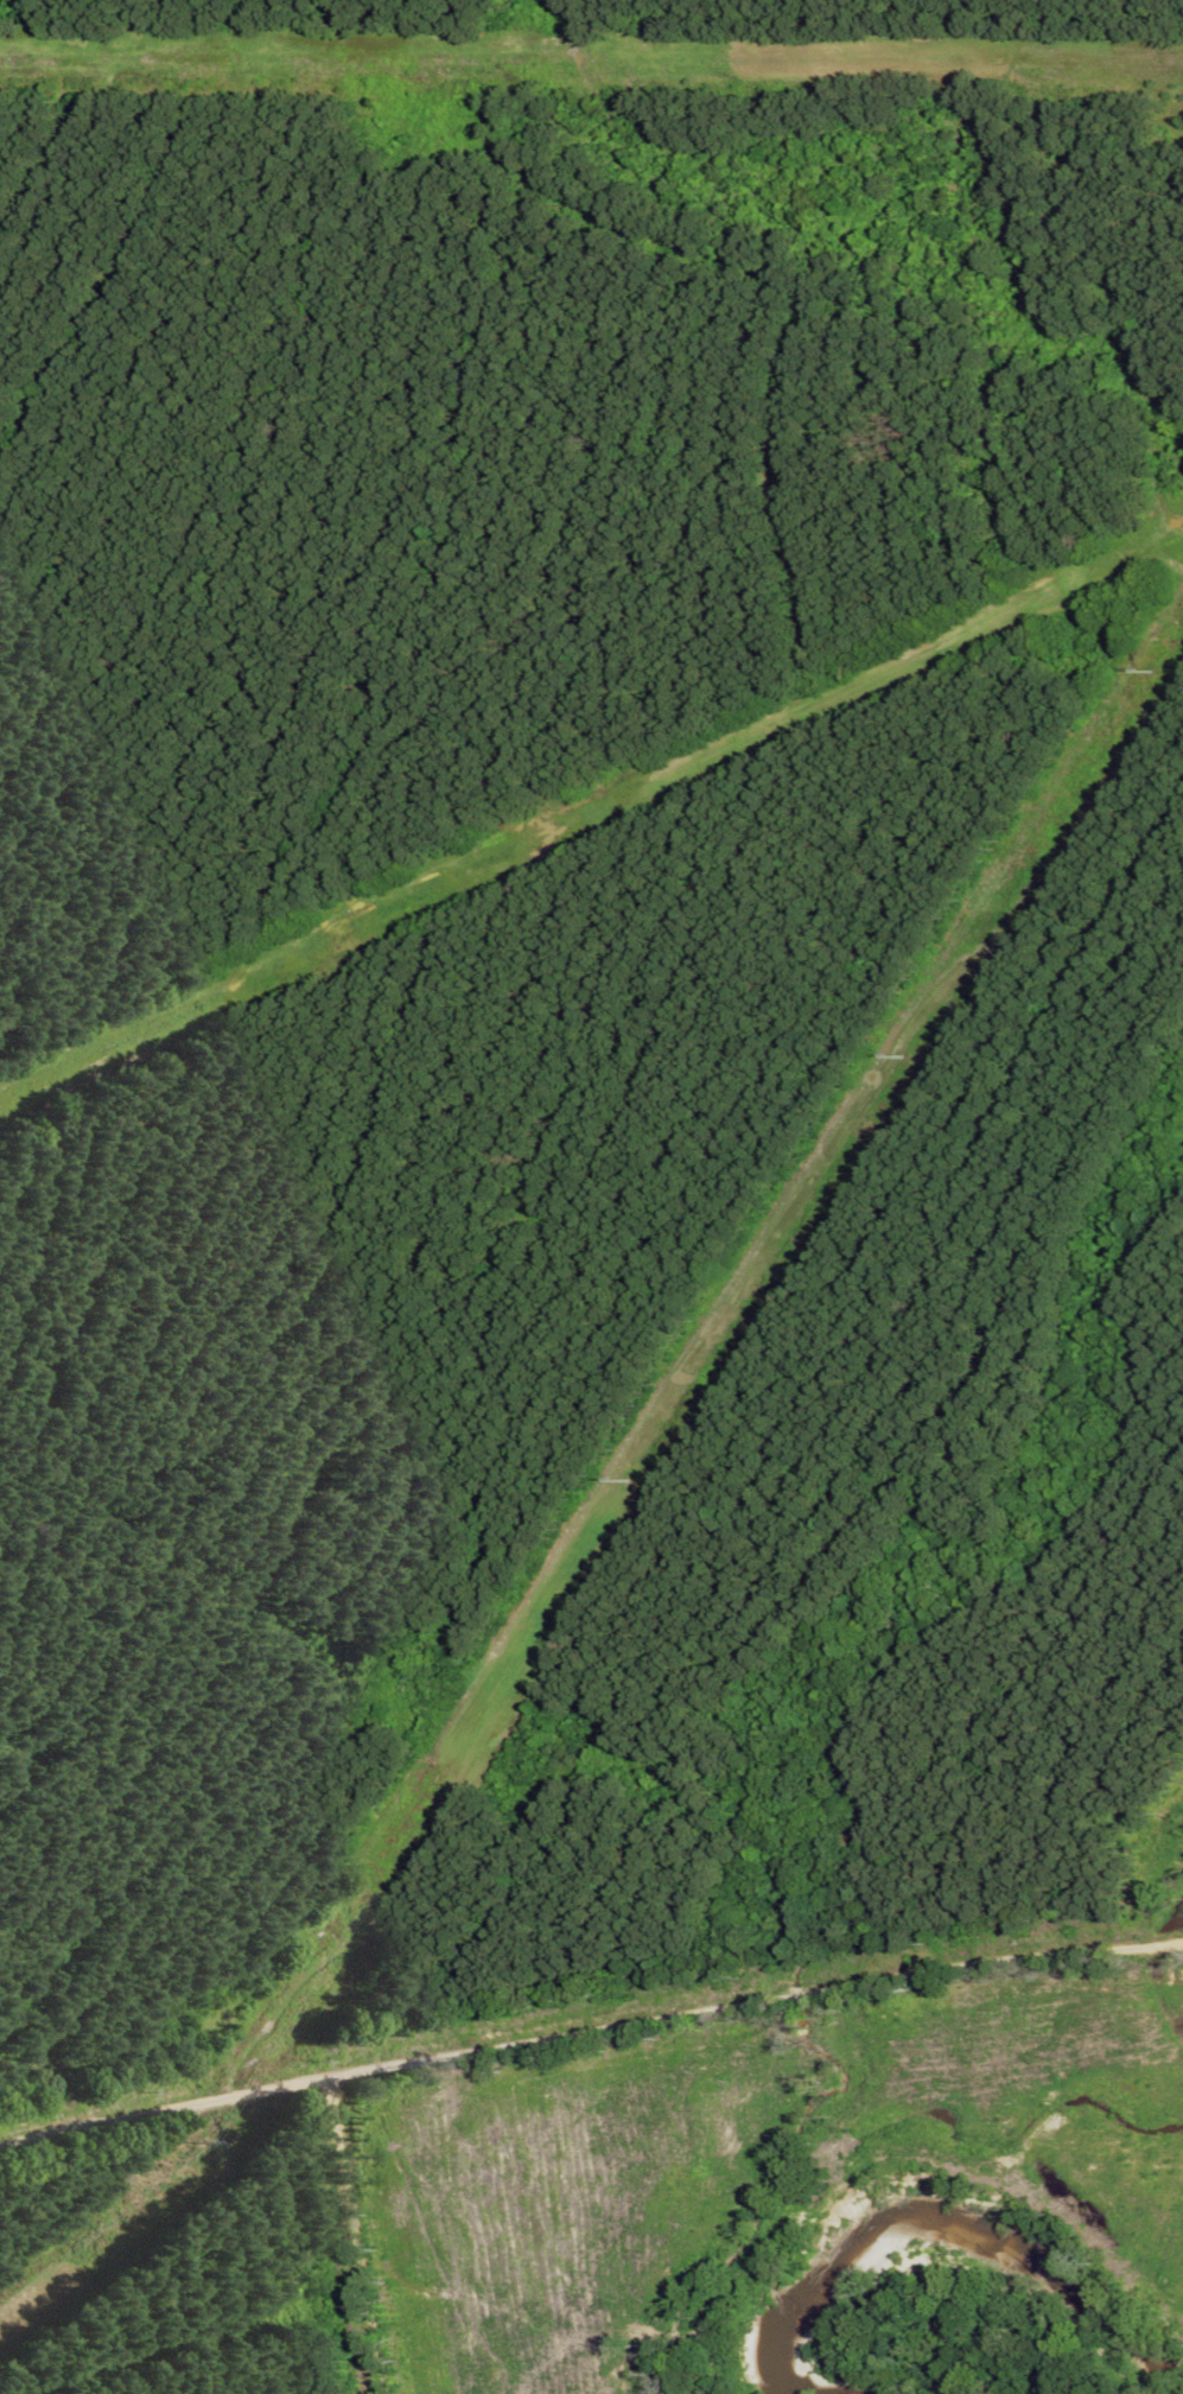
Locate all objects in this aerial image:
road: (589, 2030)
river: (942, 2228)
road: (356, 2236)

